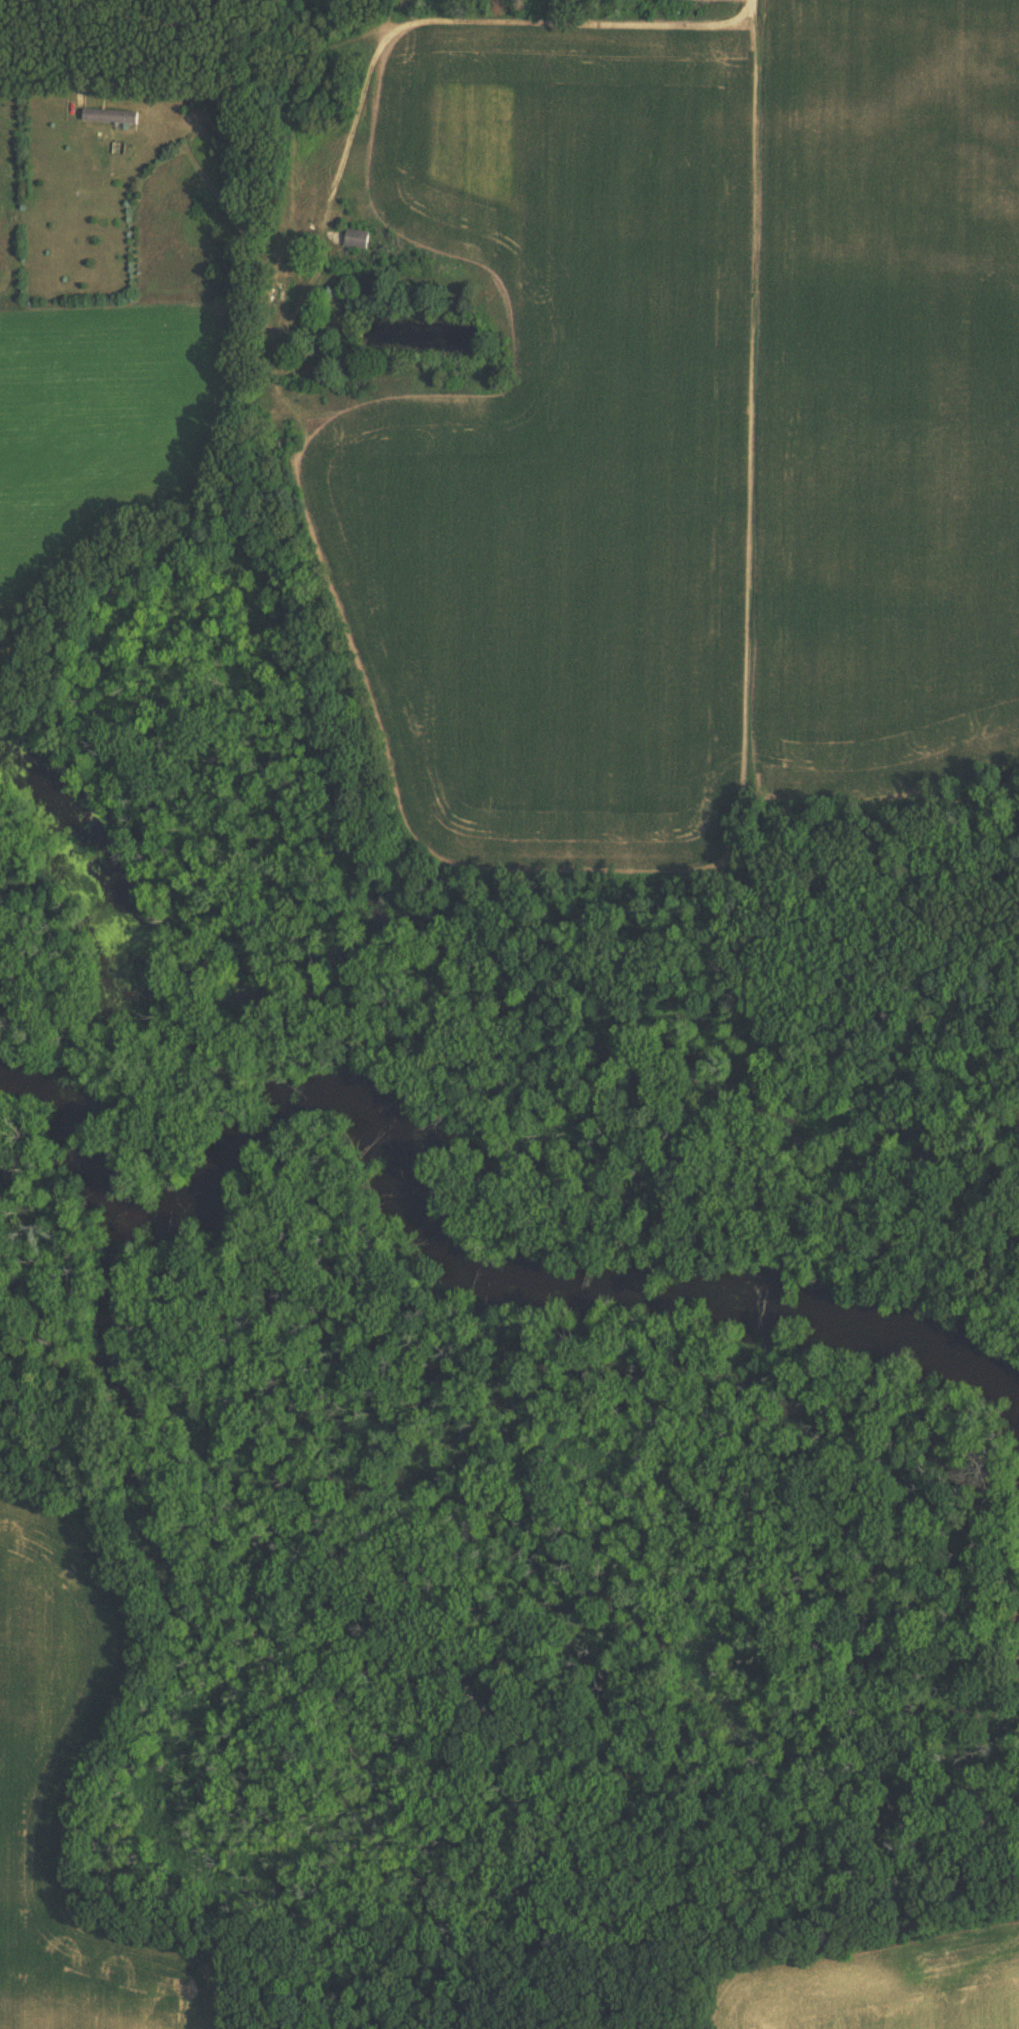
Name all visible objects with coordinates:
road: (467, 9)
building: (107, 116)
building: (356, 238)
building: (269, 294)
river: (349, 1088)

